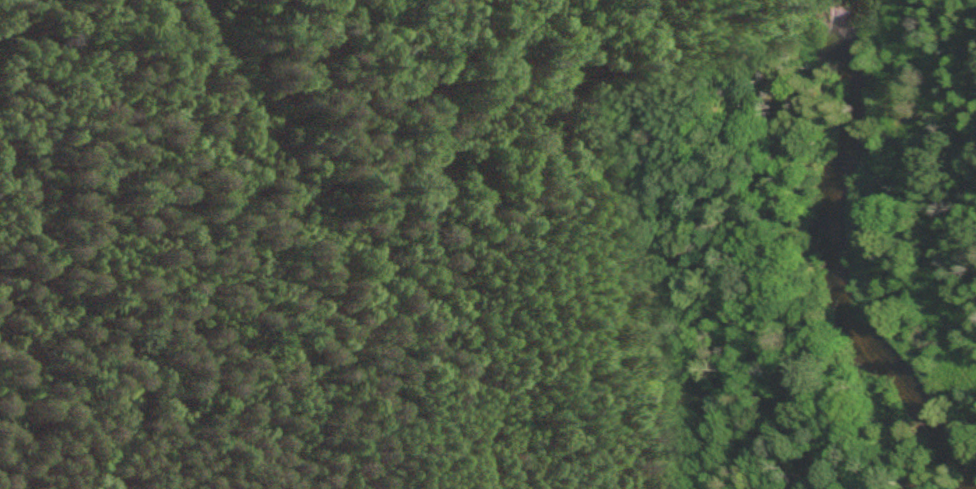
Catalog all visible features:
road: (231, 53)
road: (111, 102)
river: (844, 252)
road: (415, 297)

